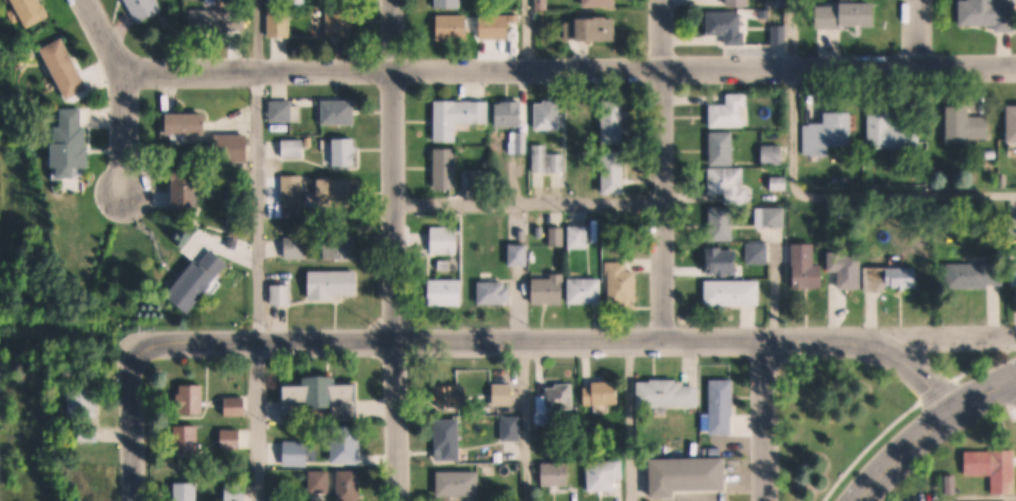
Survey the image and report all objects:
building: (599, 2)
building: (739, 2)
building: (781, 3)
building: (448, 4)
building: (542, 4)
building: (145, 8)
building: (28, 12)
building: (990, 13)
building: (765, 14)
building: (848, 15)
building: (514, 18)
building: (216, 21)
building: (280, 21)
building: (341, 22)
building: (728, 26)
building: (452, 27)
building: (486, 27)
building: (592, 29)
road: (916, 33)
road: (528, 34)
road: (258, 35)
building: (780, 35)
building: (65, 68)
road: (568, 69)
road: (123, 93)
road: (795, 98)
building: (282, 111)
building: (340, 112)
building: (512, 112)
building: (731, 113)
building: (548, 115)
building: (458, 116)
building: (189, 123)
building: (1014, 123)
building: (968, 125)
building: (894, 133)
building: (830, 134)
building: (71, 142)
building: (233, 147)
building: (615, 147)
building: (294, 148)
building: (723, 148)
building: (346, 152)
building: (773, 154)
building: (991, 154)
building: (546, 160)
building: (446, 168)
building: (991, 168)
road: (664, 169)
building: (482, 178)
building: (728, 180)
building: (1004, 181)
building: (779, 183)
building: (186, 187)
building: (294, 190)
building: (339, 190)
road: (636, 199)
building: (770, 217)
building: (521, 222)
building: (722, 223)
building: (1009, 227)
building: (237, 229)
building: (516, 232)
building: (556, 236)
building: (578, 237)
building: (444, 239)
building: (233, 241)
building: (343, 242)
road: (258, 243)
building: (297, 246)
road: (396, 250)
building: (757, 253)
building: (519, 254)
building: (723, 262)
building: (444, 264)
building: (807, 266)
building: (848, 266)
building: (1015, 272)
building: (907, 275)
building: (978, 275)
building: (200, 279)
building: (622, 282)
building: (335, 284)
building: (550, 289)
building: (586, 291)
building: (446, 292)
building: (494, 292)
building: (733, 292)
building: (283, 294)
road: (946, 337)
road: (558, 339)
road: (984, 390)
building: (602, 393)
building: (667, 393)
building: (561, 396)
building: (453, 397)
building: (322, 398)
building: (195, 399)
building: (88, 403)
building: (722, 406)
building: (238, 407)
road: (910, 412)
road: (525, 420)
road: (767, 420)
road: (136, 424)
building: (90, 433)
building: (450, 437)
building: (190, 438)
building: (233, 438)
building: (350, 443)
road: (904, 450)
building: (551, 451)
building: (298, 453)
road: (263, 458)
building: (995, 468)
building: (606, 471)
building: (555, 473)
road: (632, 474)
building: (689, 475)
building: (322, 480)
building: (461, 484)
building: (352, 485)
building: (953, 485)
building: (189, 491)
building: (237, 491)

